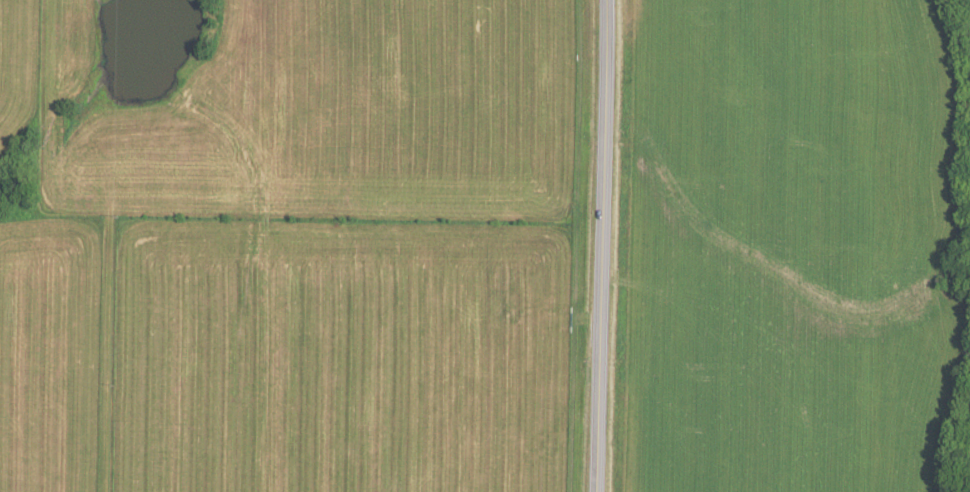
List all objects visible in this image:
road: (599, 245)

